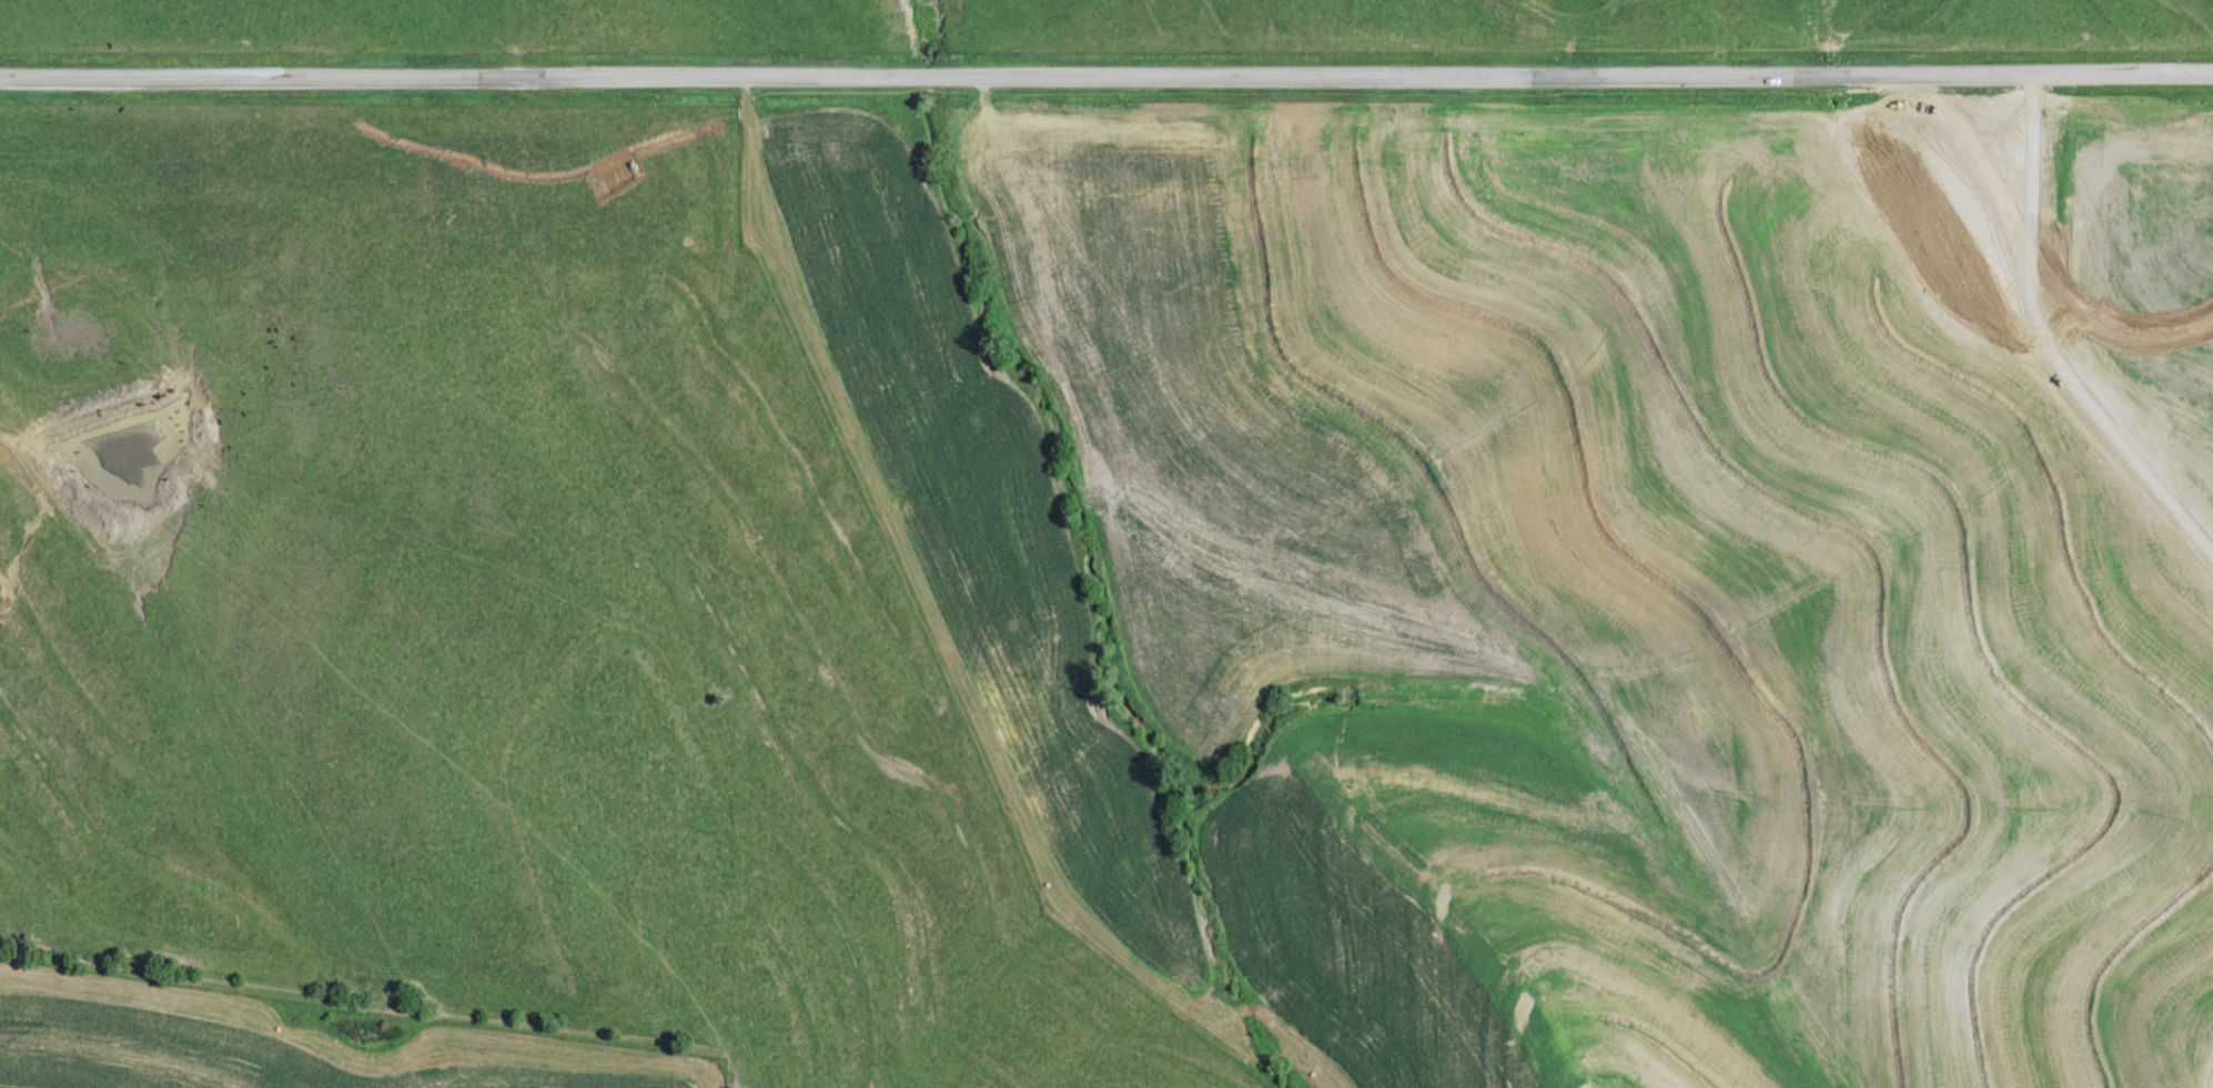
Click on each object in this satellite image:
road: (1106, 75)
road: (2033, 254)
road: (2050, 337)

